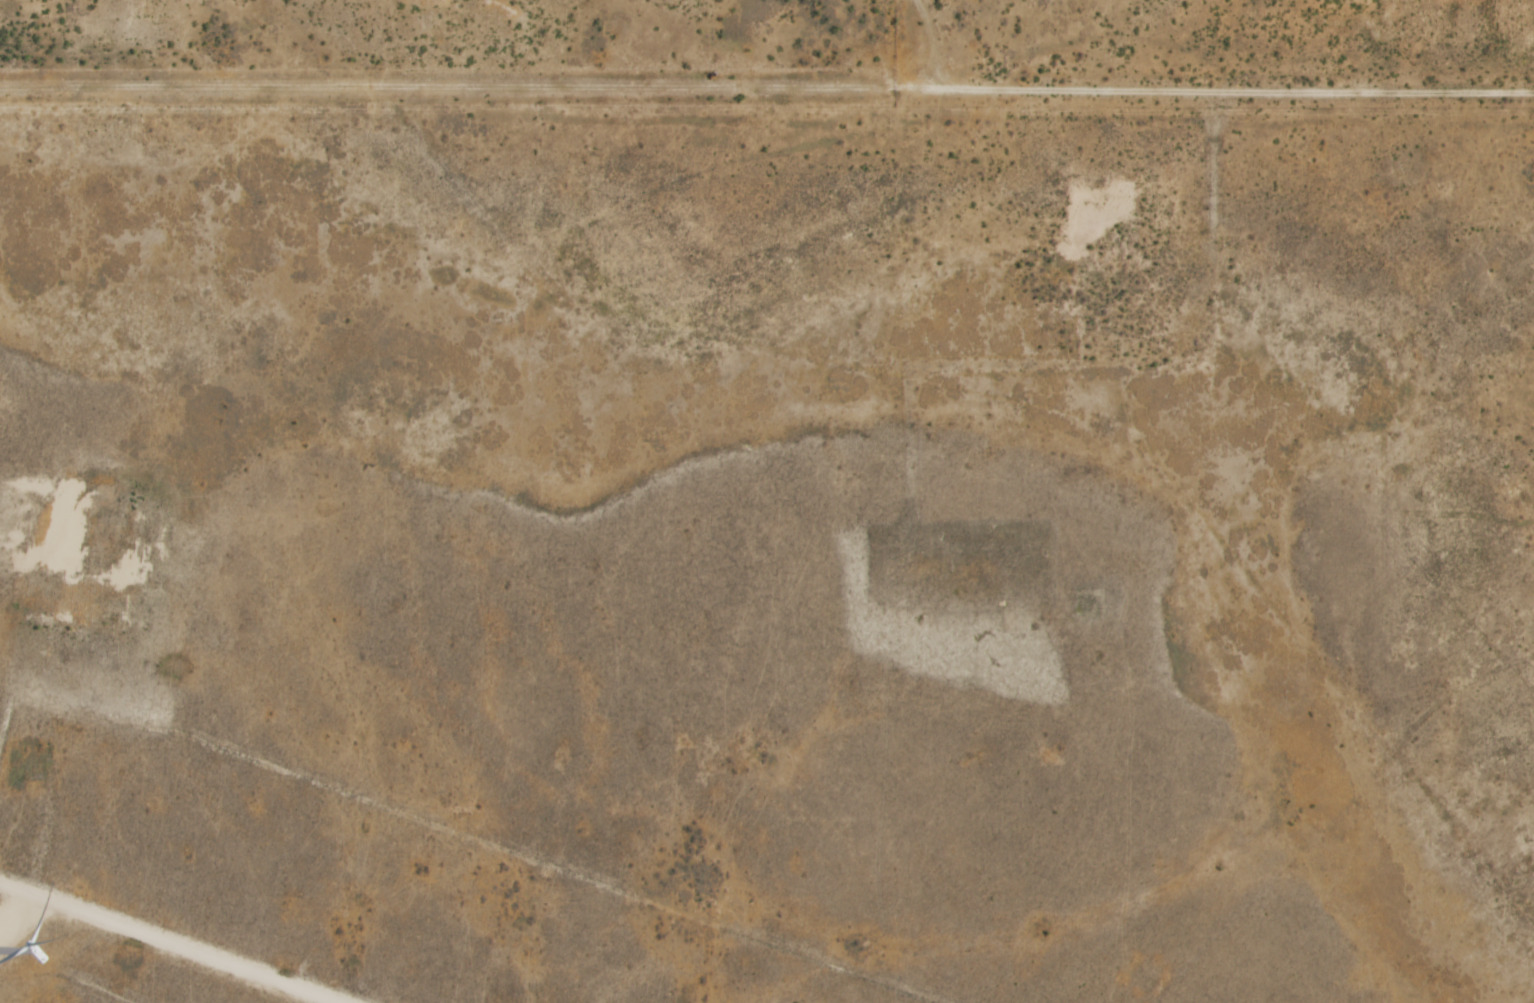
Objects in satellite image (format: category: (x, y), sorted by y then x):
road: (171, 942)

